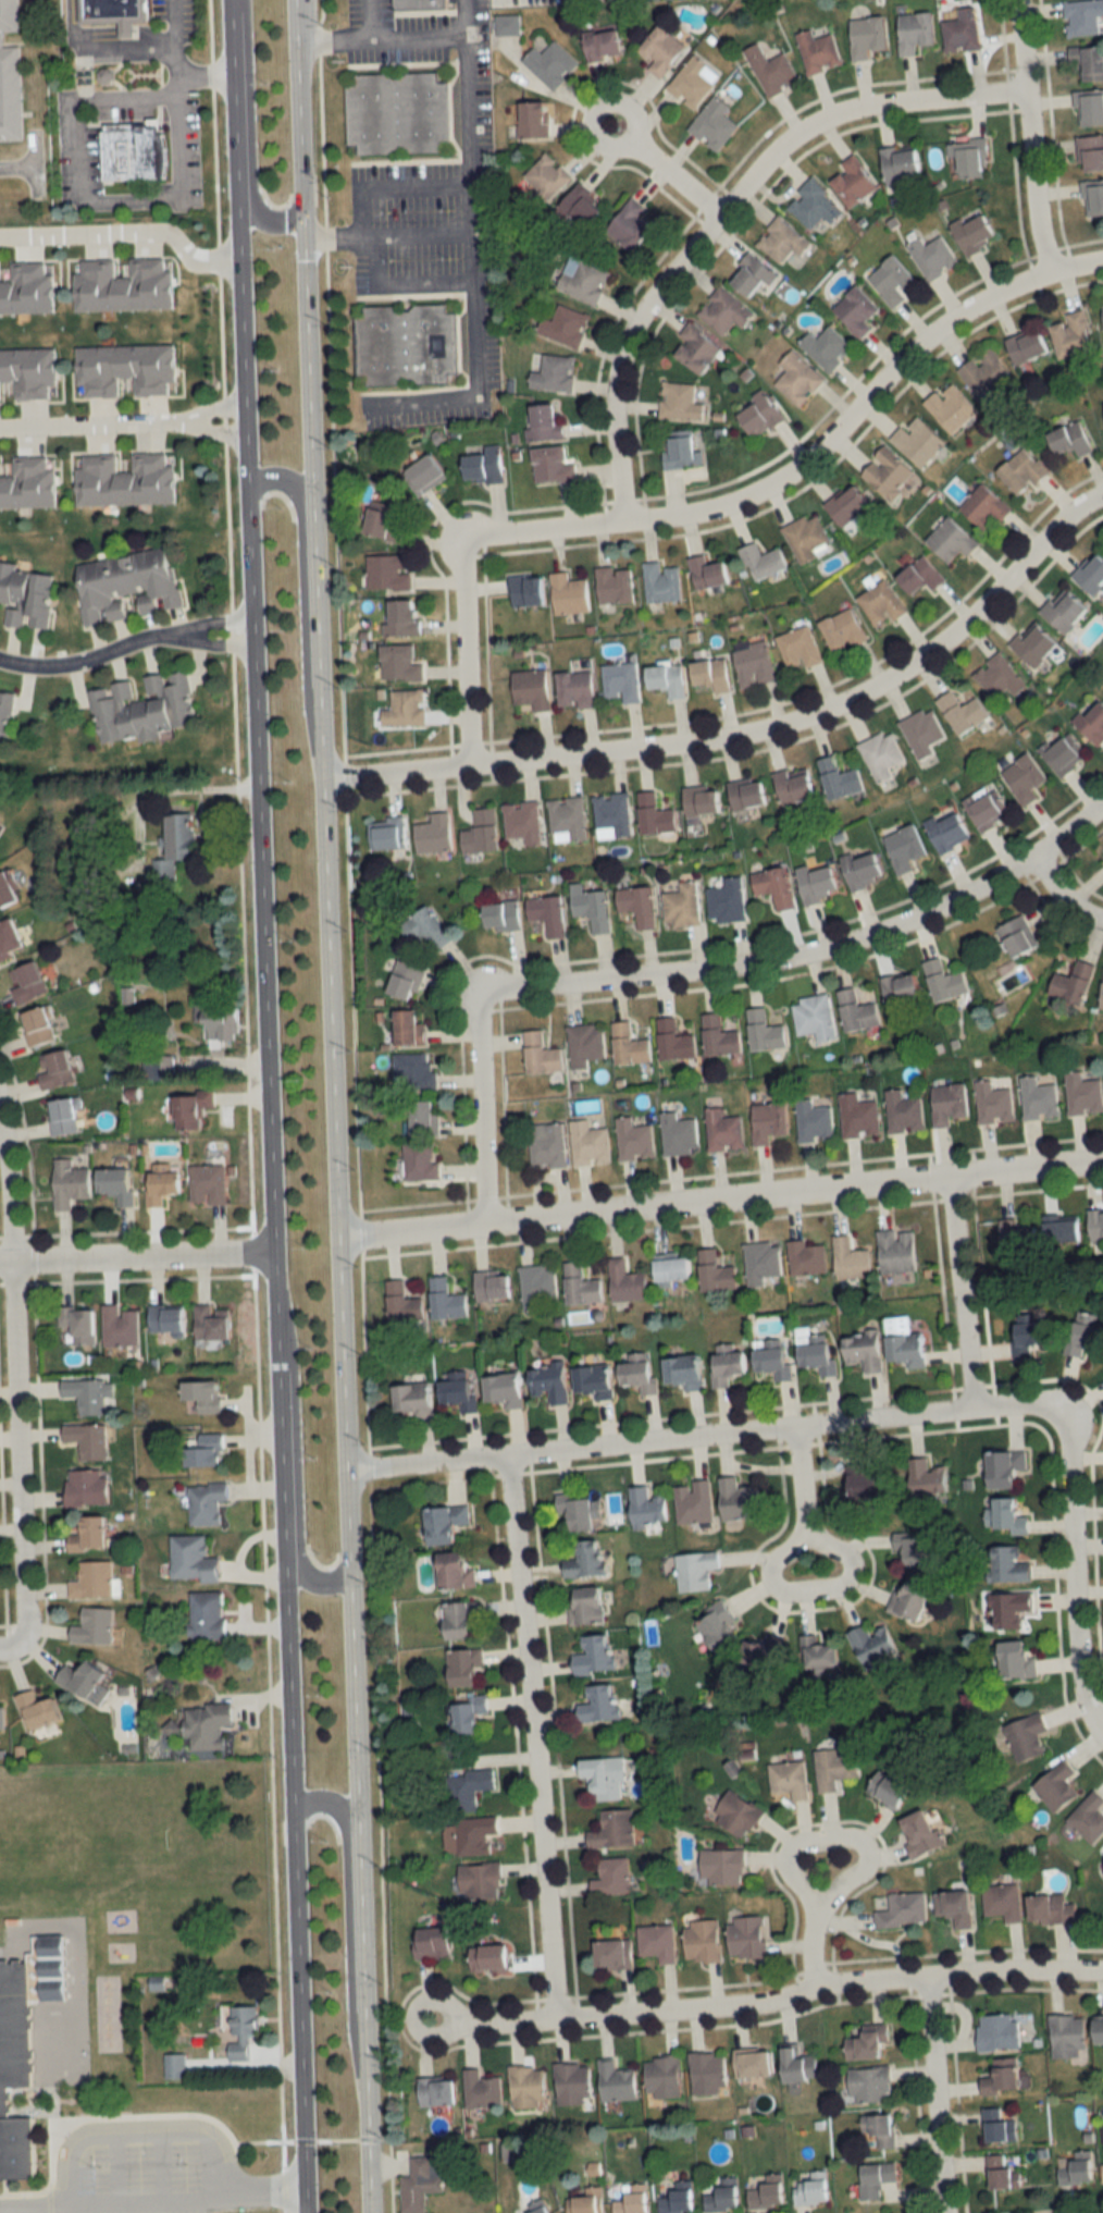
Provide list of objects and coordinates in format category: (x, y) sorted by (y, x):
building: (422, 7)
building: (115, 12)
road: (467, 16)
building: (1080, 17)
road: (174, 21)
building: (508, 24)
building: (912, 32)
building: (959, 32)
building: (866, 37)
road: (100, 44)
building: (605, 45)
building: (665, 50)
building: (820, 51)
building: (1086, 62)
building: (553, 63)
building: (773, 70)
road: (187, 72)
building: (10, 75)
building: (695, 82)
road: (295, 99)
building: (1088, 109)
building: (400, 112)
building: (536, 120)
building: (716, 123)
road: (249, 127)
road: (232, 132)
road: (1029, 134)
building: (1089, 152)
building: (971, 157)
building: (902, 163)
road: (662, 164)
road: (32, 165)
building: (150, 165)
building: (548, 179)
road: (33, 180)
road: (471, 180)
building: (856, 181)
building: (1092, 196)
road: (91, 200)
building: (583, 205)
building: (817, 205)
road: (716, 209)
building: (634, 224)
road: (125, 230)
building: (978, 233)
road: (386, 234)
building: (785, 243)
building: (935, 257)
building: (756, 275)
building: (585, 280)
building: (894, 280)
building: (125, 285)
building: (29, 290)
building: (727, 310)
building: (859, 310)
building: (1102, 317)
building: (568, 325)
building: (1070, 334)
building: (409, 344)
building: (1025, 344)
building: (701, 348)
building: (829, 348)
building: (127, 369)
building: (29, 372)
building: (983, 376)
building: (801, 378)
building: (682, 402)
building: (949, 407)
building: (763, 414)
road: (181, 420)
road: (90, 422)
building: (547, 422)
building: (1068, 438)
building: (916, 440)
building: (682, 451)
building: (555, 464)
building: (487, 465)
building: (1020, 470)
building: (430, 471)
building: (884, 471)
building: (127, 479)
building: (30, 483)
building: (845, 503)
building: (983, 505)
road: (716, 506)
building: (385, 522)
building: (804, 537)
building: (949, 539)
building: (760, 561)
building: (389, 571)
building: (705, 573)
building: (1089, 574)
building: (918, 575)
building: (659, 582)
road: (297, 583)
building: (129, 585)
building: (612, 585)
building: (524, 590)
building: (567, 593)
building: (27, 594)
building: (879, 602)
building: (1062, 610)
building: (405, 618)
building: (840, 629)
building: (1031, 644)
road: (123, 646)
building: (796, 646)
building: (401, 662)
building: (751, 663)
building: (708, 674)
building: (665, 678)
building: (996, 678)
building: (619, 681)
building: (529, 688)
building: (573, 689)
building: (407, 708)
building: (144, 709)
building: (959, 712)
building: (5, 714)
building: (1091, 722)
road: (747, 728)
building: (921, 731)
building: (1062, 752)
building: (879, 754)
road: (251, 761)
building: (835, 778)
building: (1021, 778)
building: (790, 787)
road: (189, 790)
building: (744, 794)
building: (698, 800)
building: (984, 809)
building: (652, 814)
building: (610, 815)
building: (566, 820)
building: (521, 823)
building: (945, 831)
building: (479, 832)
building: (384, 833)
building: (432, 834)
building: (176, 847)
building: (902, 849)
building: (1102, 861)
building: (859, 870)
building: (815, 883)
building: (771, 886)
building: (9, 890)
road: (1059, 899)
building: (726, 901)
building: (634, 903)
building: (680, 905)
building: (588, 907)
building: (545, 913)
building: (498, 915)
building: (423, 929)
building: (1015, 935)
building: (11, 939)
road: (702, 968)
building: (942, 980)
building: (404, 981)
building: (29, 983)
building: (1069, 985)
building: (897, 987)
building: (1101, 993)
road: (325, 1008)
building: (854, 1010)
building: (811, 1017)
building: (219, 1021)
building: (40, 1026)
building: (405, 1029)
building: (761, 1031)
building: (717, 1036)
building: (671, 1041)
building: (583, 1044)
building: (627, 1045)
building: (58, 1069)
building: (412, 1071)
building: (1081, 1094)
building: (1037, 1098)
building: (946, 1103)
building: (991, 1103)
road: (354, 1105)
building: (195, 1109)
building: (902, 1112)
building: (65, 1116)
building: (856, 1116)
building: (420, 1118)
building: (811, 1121)
building: (766, 1122)
building: (721, 1131)
building: (677, 1135)
building: (632, 1140)
building: (586, 1143)
building: (544, 1145)
building: (418, 1161)
building: (72, 1183)
building: (120, 1184)
building: (165, 1184)
building: (209, 1184)
road: (718, 1200)
road: (8, 1201)
building: (1095, 1224)
building: (1061, 1230)
building: (1015, 1237)
building: (894, 1250)
building: (805, 1257)
building: (848, 1258)
road: (134, 1261)
building: (760, 1261)
building: (669, 1267)
building: (712, 1271)
building: (623, 1281)
building: (535, 1284)
building: (489, 1286)
building: (578, 1286)
road: (270, 1290)
road: (959, 1293)
building: (443, 1300)
building: (399, 1303)
building: (169, 1318)
building: (215, 1323)
building: (82, 1324)
building: (122, 1327)
building: (1085, 1336)
building: (1027, 1337)
building: (903, 1344)
building: (862, 1350)
building: (815, 1354)
building: (770, 1358)
building: (723, 1366)
building: (681, 1372)
building: (635, 1373)
building: (591, 1380)
building: (546, 1382)
building: (500, 1390)
building: (457, 1391)
building: (90, 1394)
building: (207, 1396)
building: (409, 1400)
road: (701, 1437)
building: (90, 1440)
building: (207, 1451)
road: (16, 1452)
road: (293, 1452)
building: (1002, 1468)
road: (798, 1478)
building: (925, 1478)
building: (865, 1484)
building: (88, 1488)
building: (735, 1500)
building: (691, 1502)
building: (208, 1503)
building: (644, 1508)
building: (577, 1512)
building: (1005, 1516)
building: (442, 1524)
building: (91, 1536)
building: (909, 1550)
building: (195, 1559)
building: (582, 1560)
building: (1006, 1565)
building: (693, 1571)
building: (451, 1572)
road: (1075, 1575)
building: (94, 1581)
road: (814, 1590)
building: (906, 1598)
building: (582, 1606)
building: (1007, 1609)
building: (210, 1615)
building: (456, 1620)
building: (96, 1626)
building: (736, 1642)
building: (869, 1644)
road: (12, 1648)
building: (815, 1653)
building: (592, 1656)
building: (1012, 1660)
building: (462, 1668)
building: (87, 1681)
building: (596, 1705)
building: (40, 1711)
building: (464, 1713)
building: (2, 1718)
building: (209, 1725)
road: (529, 1737)
building: (1024, 1737)
road: (285, 1769)
building: (831, 1769)
building: (602, 1779)
building: (786, 1780)
building: (1053, 1787)
building: (464, 1790)
building: (883, 1790)
building: (734, 1815)
building: (1087, 1819)
building: (610, 1831)
building: (917, 1834)
building: (472, 1835)
road: (833, 1835)
building: (1102, 1860)
building: (719, 1868)
building: (609, 1878)
building: (476, 1881)
building: (1000, 1902)
building: (952, 1907)
building: (1046, 1909)
building: (901, 1911)
road: (344, 1932)
building: (744, 1938)
building: (699, 1941)
building: (435, 1942)
building: (655, 1942)
road: (811, 1943)
road: (72, 1944)
building: (609, 1955)
building: (485, 1959)
road: (827, 1982)
road: (447, 1995)
road: (361, 2015)
building: (245, 2030)
building: (1096, 2030)
building: (994, 2032)
building: (1065, 2036)
building: (25, 2044)
building: (864, 2044)
building: (748, 2064)
building: (176, 2066)
building: (795, 2066)
building: (705, 2074)
building: (660, 2077)
building: (999, 2078)
building: (574, 2083)
building: (616, 2083)
building: (867, 2086)
building: (530, 2087)
building: (483, 2090)
building: (439, 2091)
road: (937, 2092)
building: (995, 2127)
building: (878, 2131)
building: (1075, 2169)
building: (1101, 2169)
building: (1000, 2174)
building: (872, 2179)
building: (422, 2183)
building: (815, 2189)
building: (770, 2192)
building: (726, 2196)
road: (150, 2199)
building: (681, 2199)
building: (635, 2200)
building: (587, 2201)
building: (542, 2205)

